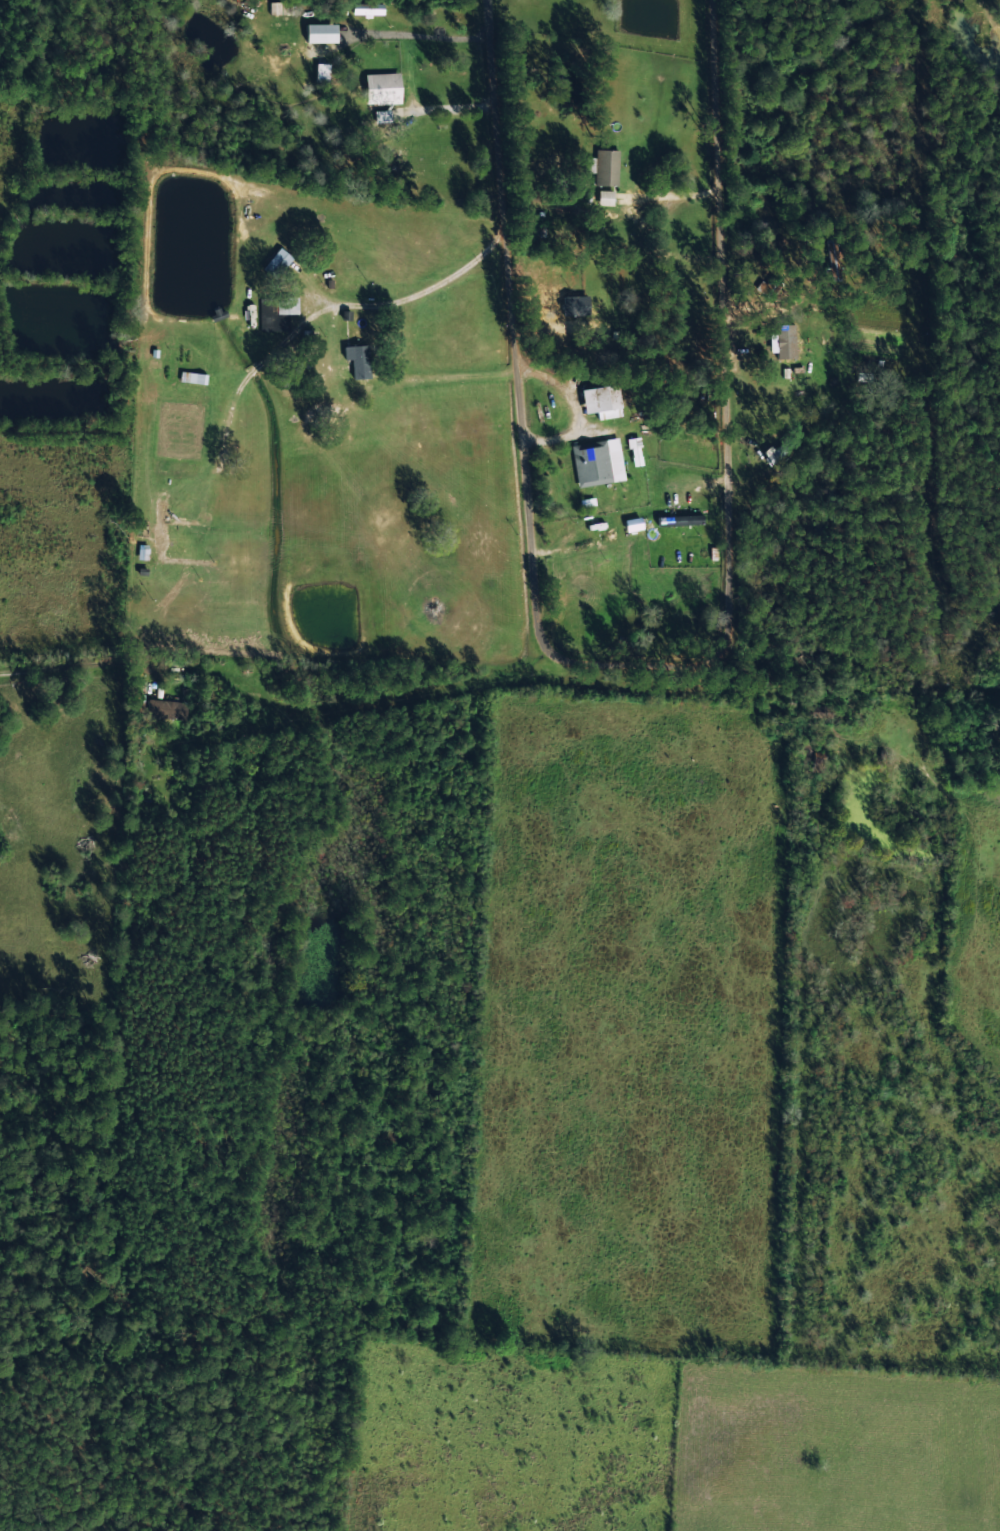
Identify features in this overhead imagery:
building: (368, 7)
building: (322, 31)
building: (321, 71)
building: (384, 82)
building: (607, 166)
building: (276, 262)
building: (576, 304)
building: (359, 359)
building: (196, 377)
building: (603, 400)
building: (634, 446)
building: (773, 451)
building: (598, 461)
building: (681, 519)
building: (633, 523)
building: (160, 524)
road: (629, 660)
road: (414, 676)
road: (914, 692)
building: (167, 708)

